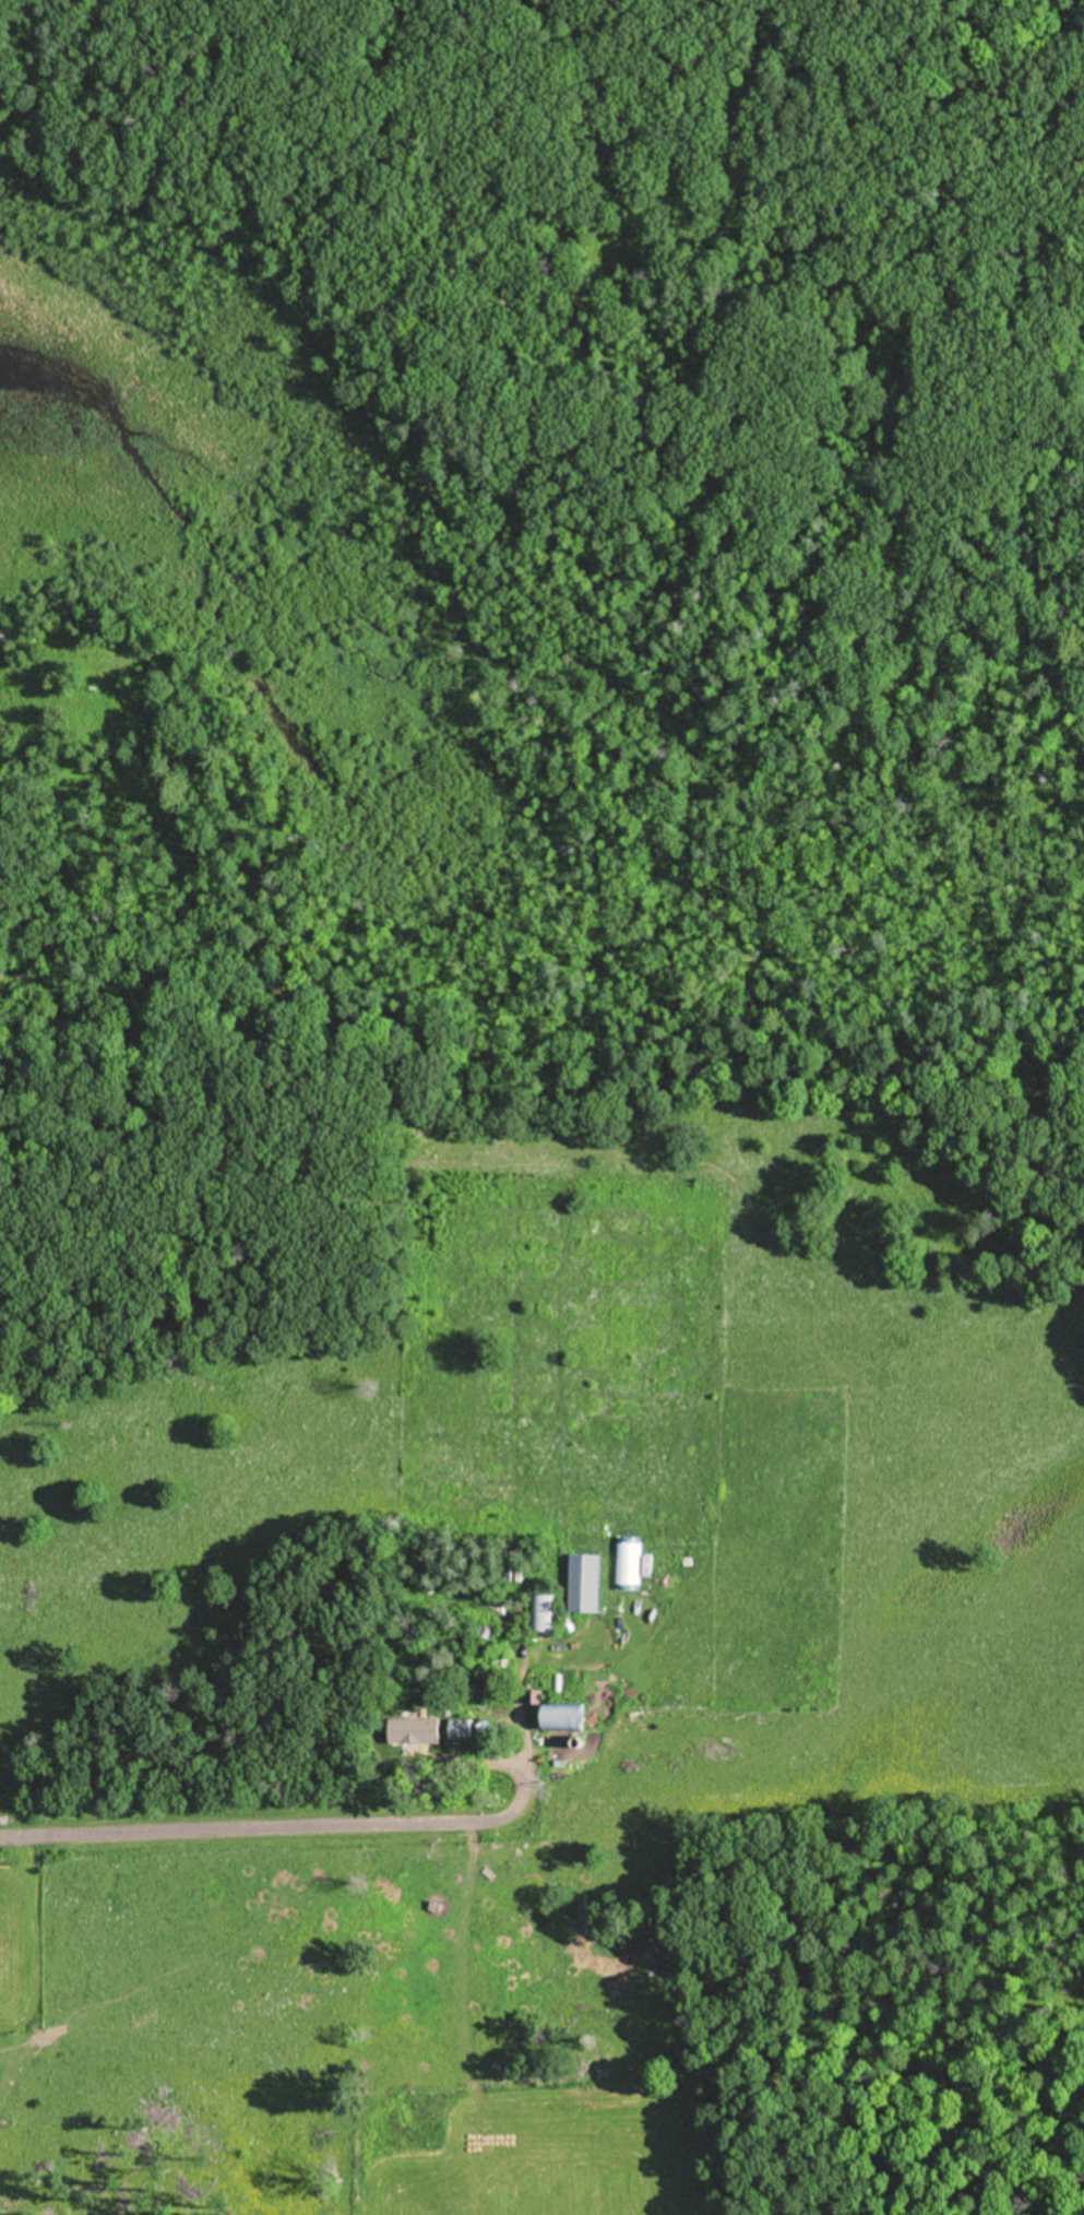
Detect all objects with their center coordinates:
building: (545, 1609)
building: (570, 1716)
road: (219, 1817)

